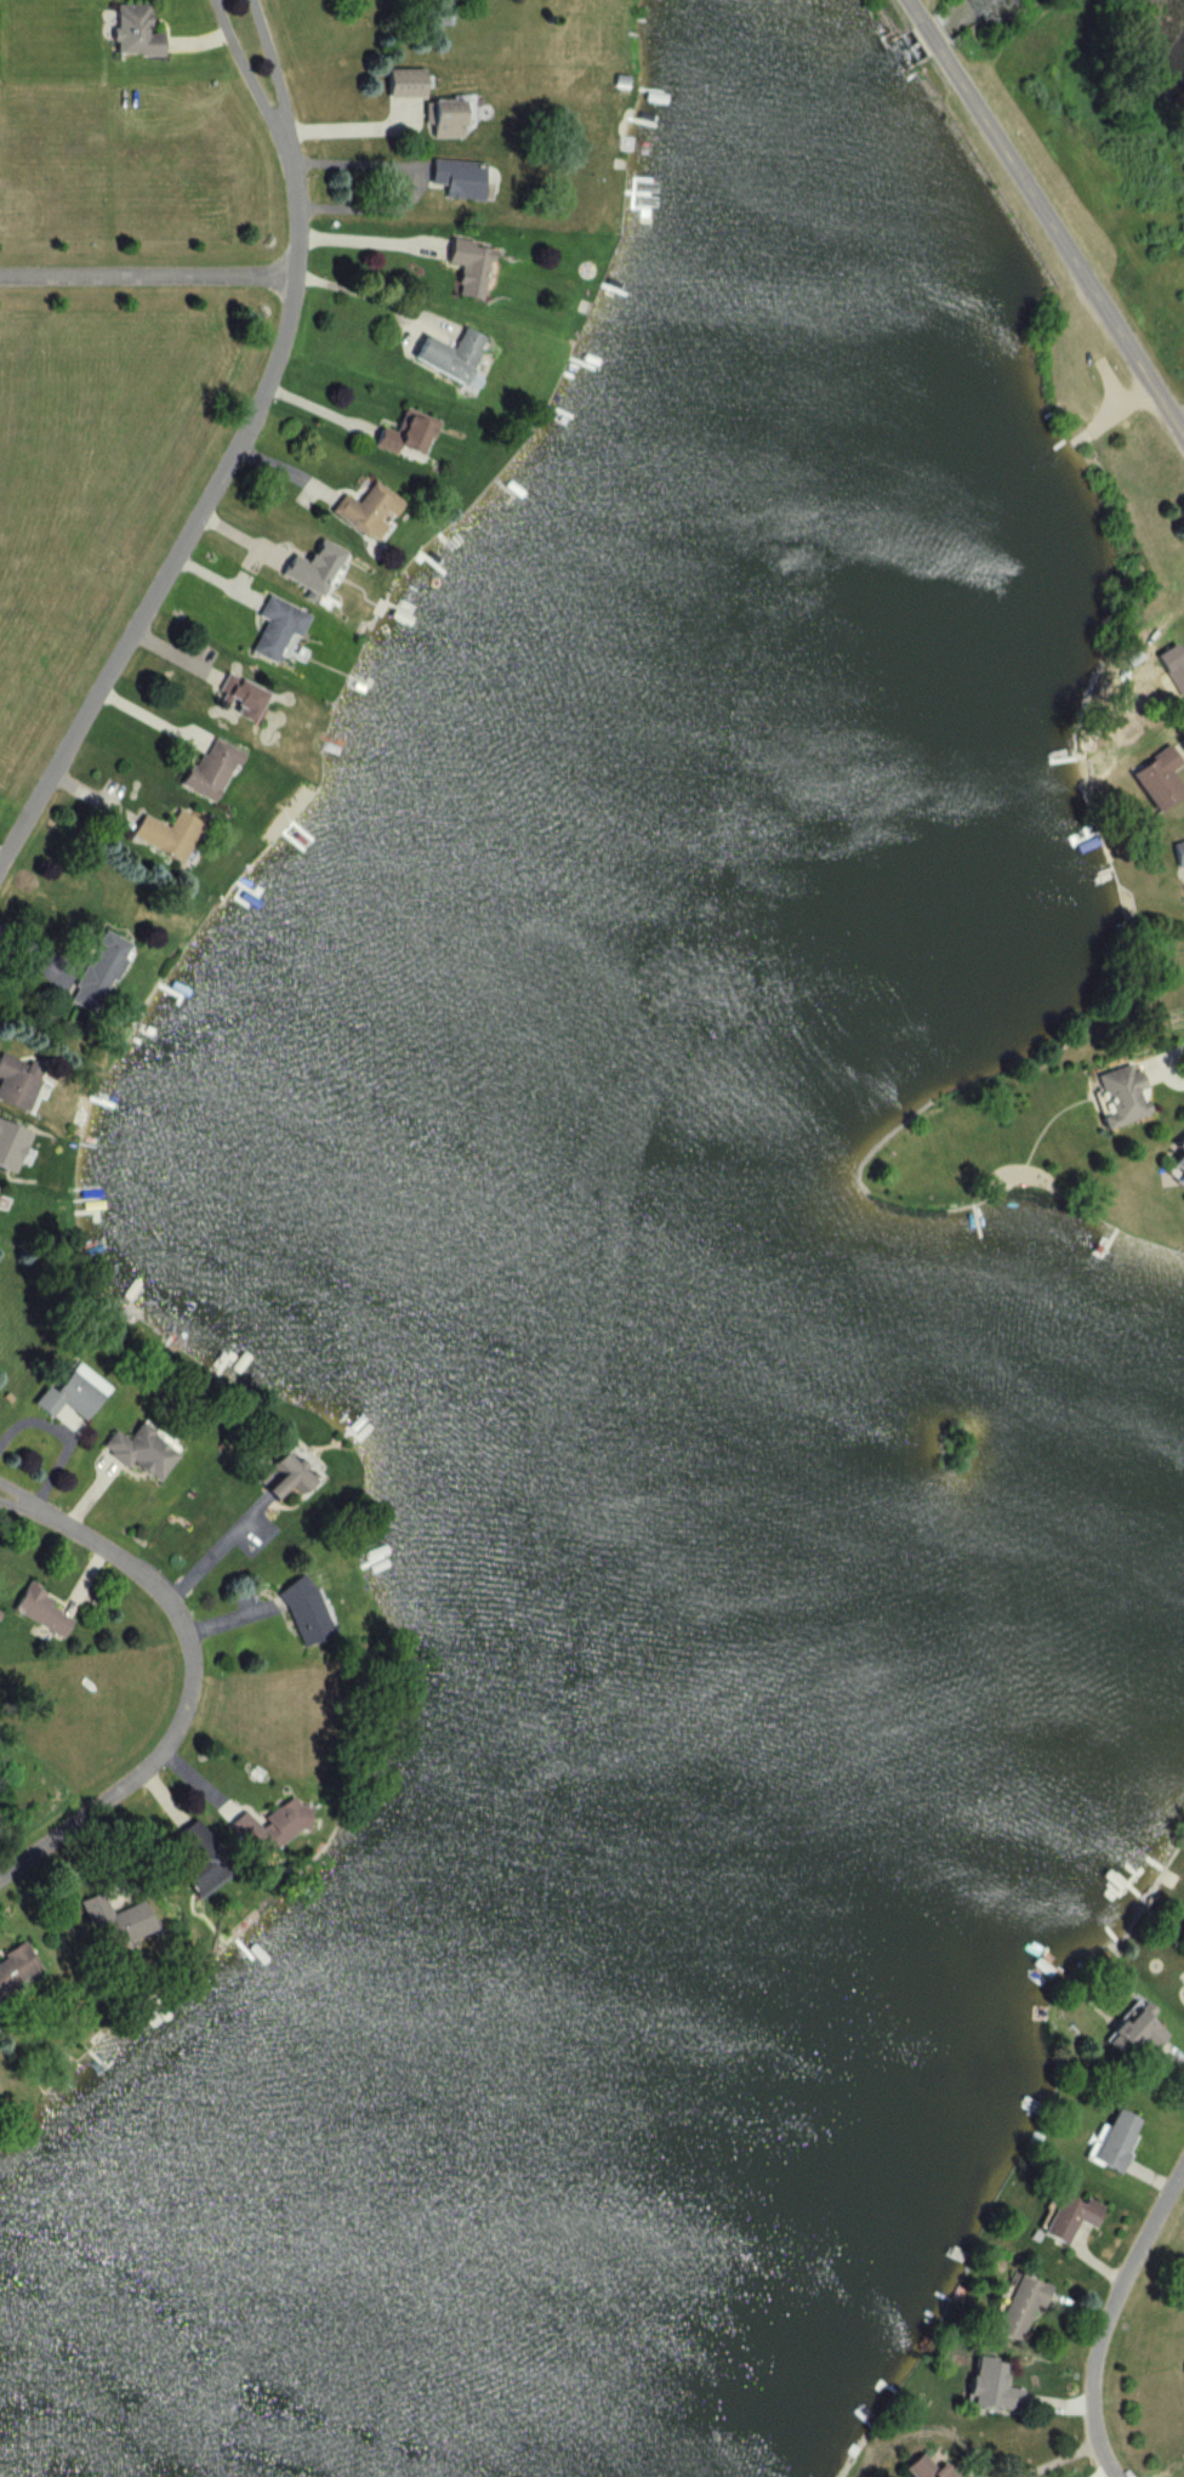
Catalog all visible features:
road: (910, 10)
building: (429, 17)
building: (131, 33)
road: (926, 35)
road: (268, 66)
road: (241, 68)
building: (400, 84)
building: (444, 119)
building: (454, 178)
road: (366, 242)
road: (1059, 243)
building: (465, 268)
road: (147, 277)
park: (34, 291)
road: (358, 292)
building: (443, 356)
road: (1180, 422)
building: (403, 437)
building: (362, 511)
road: (197, 519)
building: (308, 569)
building: (271, 632)
building: (1171, 669)
building: (230, 699)
building: (203, 769)
building: (1156, 779)
building: (164, 835)
building: (1177, 854)
building: (91, 973)
road: (1168, 1066)
building: (16, 1085)
building: (1121, 1096)
building: (1177, 1157)
river: (445, 1182)
building: (1182, 1204)
building: (66, 1394)
building: (136, 1453)
building: (277, 1478)
road: (13, 1500)
road: (13, 1505)
road: (212, 1551)
building: (36, 1613)
building: (296, 1614)
road: (186, 1692)
building: (262, 1830)
building: (194, 1862)
building: (107, 1924)
building: (13, 1966)
building: (1183, 1977)
building: (1131, 2030)
building: (1112, 2141)
building: (1065, 2217)
building: (1015, 2306)
road: (1104, 2317)
building: (986, 2386)
building: (918, 2469)

